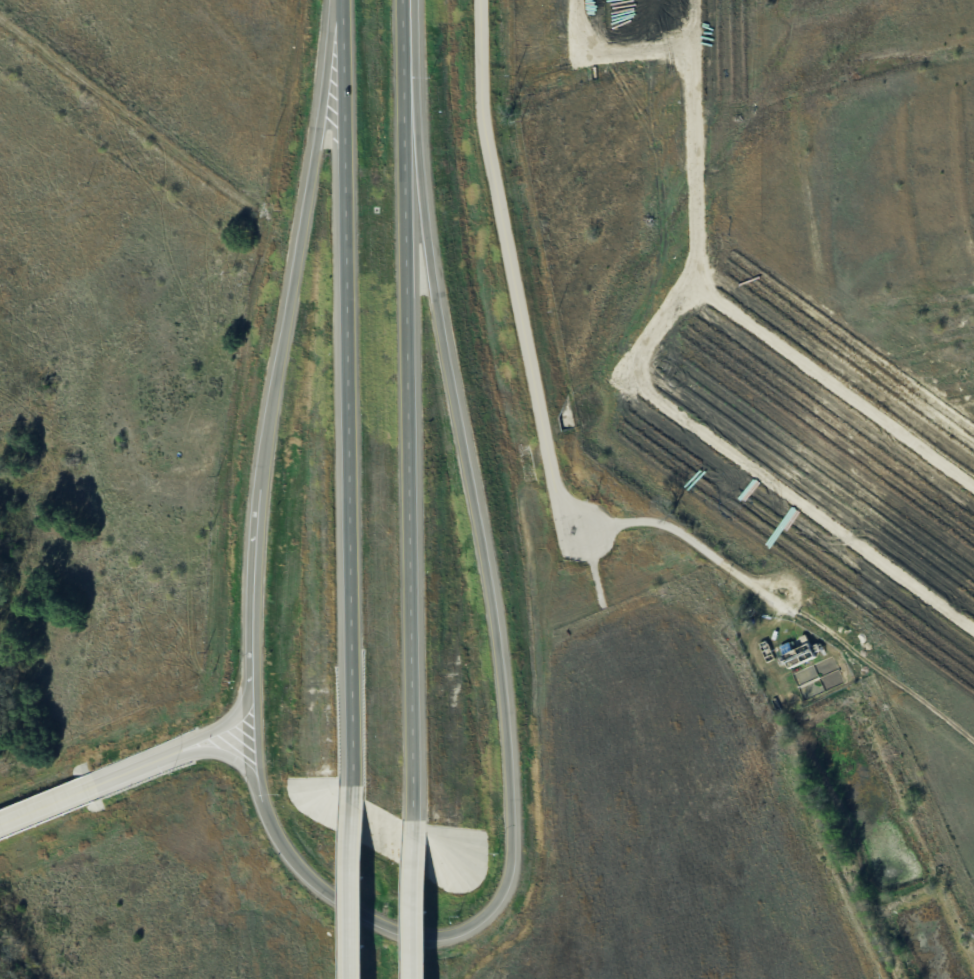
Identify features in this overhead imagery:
road: (129, 115)
road: (300, 243)
road: (512, 274)
road: (347, 395)
road: (409, 411)
road: (218, 725)
road: (221, 751)
road: (508, 757)
road: (123, 772)
road: (47, 803)
road: (354, 884)
road: (416, 900)

